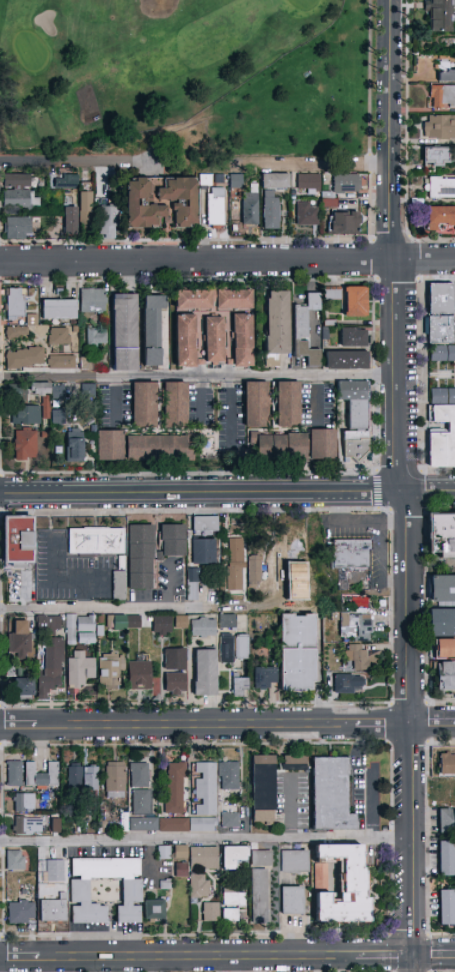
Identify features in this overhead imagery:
building: (441, 15)
park: (136, 62)
building: (447, 76)
park: (190, 79)
road: (371, 85)
road: (245, 97)
building: (442, 97)
building: (439, 127)
road: (387, 130)
building: (435, 157)
road: (62, 159)
road: (248, 161)
building: (63, 181)
building: (236, 182)
building: (308, 183)
building: (346, 183)
building: (440, 187)
building: (17, 192)
building: (272, 198)
building: (180, 200)
building: (327, 201)
building: (141, 205)
road: (372, 205)
building: (215, 207)
building: (85, 208)
building: (249, 208)
building: (306, 214)
building: (441, 219)
building: (70, 220)
building: (109, 221)
building: (344, 223)
building: (17, 228)
road: (423, 260)
road: (196, 261)
building: (332, 294)
building: (440, 298)
building: (213, 299)
building: (92, 300)
building: (355, 302)
building: (15, 303)
building: (59, 310)
building: (29, 318)
building: (276, 326)
building: (152, 328)
building: (440, 329)
building: (305, 330)
building: (124, 332)
building: (16, 333)
building: (58, 336)
building: (95, 337)
building: (353, 337)
building: (74, 340)
building: (214, 340)
building: (185, 341)
building: (242, 341)
building: (442, 353)
building: (25, 358)
building: (345, 360)
building: (62, 361)
building: (85, 362)
road: (394, 376)
road: (197, 379)
building: (49, 390)
building: (16, 393)
road: (315, 401)
road: (115, 403)
road: (201, 404)
building: (256, 404)
building: (287, 404)
building: (144, 405)
building: (175, 405)
road: (232, 411)
building: (24, 415)
building: (56, 417)
building: (355, 418)
building: (451, 427)
building: (24, 445)
building: (322, 445)
building: (110, 446)
building: (280, 446)
building: (158, 448)
building: (74, 450)
road: (429, 492)
road: (201, 495)
road: (358, 522)
building: (441, 535)
building: (17, 539)
building: (203, 539)
building: (96, 540)
building: (172, 540)
building: (235, 550)
building: (351, 553)
building: (140, 556)
road: (380, 565)
building: (254, 568)
building: (234, 579)
building: (191, 585)
building: (119, 586)
building: (442, 589)
road: (103, 608)
building: (178, 621)
building: (227, 621)
building: (123, 622)
building: (442, 623)
building: (52, 624)
building: (161, 625)
building: (203, 627)
building: (355, 627)
building: (79, 630)
building: (19, 639)
building: (233, 648)
building: (444, 648)
building: (298, 653)
building: (356, 656)
building: (174, 659)
building: (50, 668)
building: (11, 670)
building: (79, 670)
building: (109, 671)
building: (204, 672)
building: (139, 673)
building: (445, 676)
building: (265, 678)
building: (174, 683)
building: (347, 684)
building: (240, 687)
building: (22, 688)
road: (227, 725)
road: (408, 732)
building: (293, 762)
building: (447, 764)
building: (14, 773)
building: (138, 774)
building: (41, 775)
building: (229, 776)
building: (84, 778)
building: (114, 780)
building: (175, 788)
building: (205, 788)
building: (262, 789)
building: (330, 795)
building: (141, 802)
building: (23, 803)
road: (288, 808)
building: (229, 820)
building: (447, 821)
building: (141, 822)
building: (171, 822)
building: (51, 823)
building: (202, 824)
building: (27, 826)
road: (206, 841)
building: (177, 849)
building: (233, 856)
building: (203, 858)
building: (447, 859)
building: (15, 860)
building: (294, 861)
road: (149, 866)
building: (178, 867)
building: (54, 870)
building: (340, 883)
building: (199, 885)
building: (259, 887)
building: (79, 891)
building: (233, 898)
building: (292, 901)
building: (447, 907)
building: (153, 910)
building: (52, 911)
building: (21, 912)
building: (210, 912)
building: (229, 915)
road: (385, 957)
road: (434, 957)
road: (196, 959)
road: (17, 960)

